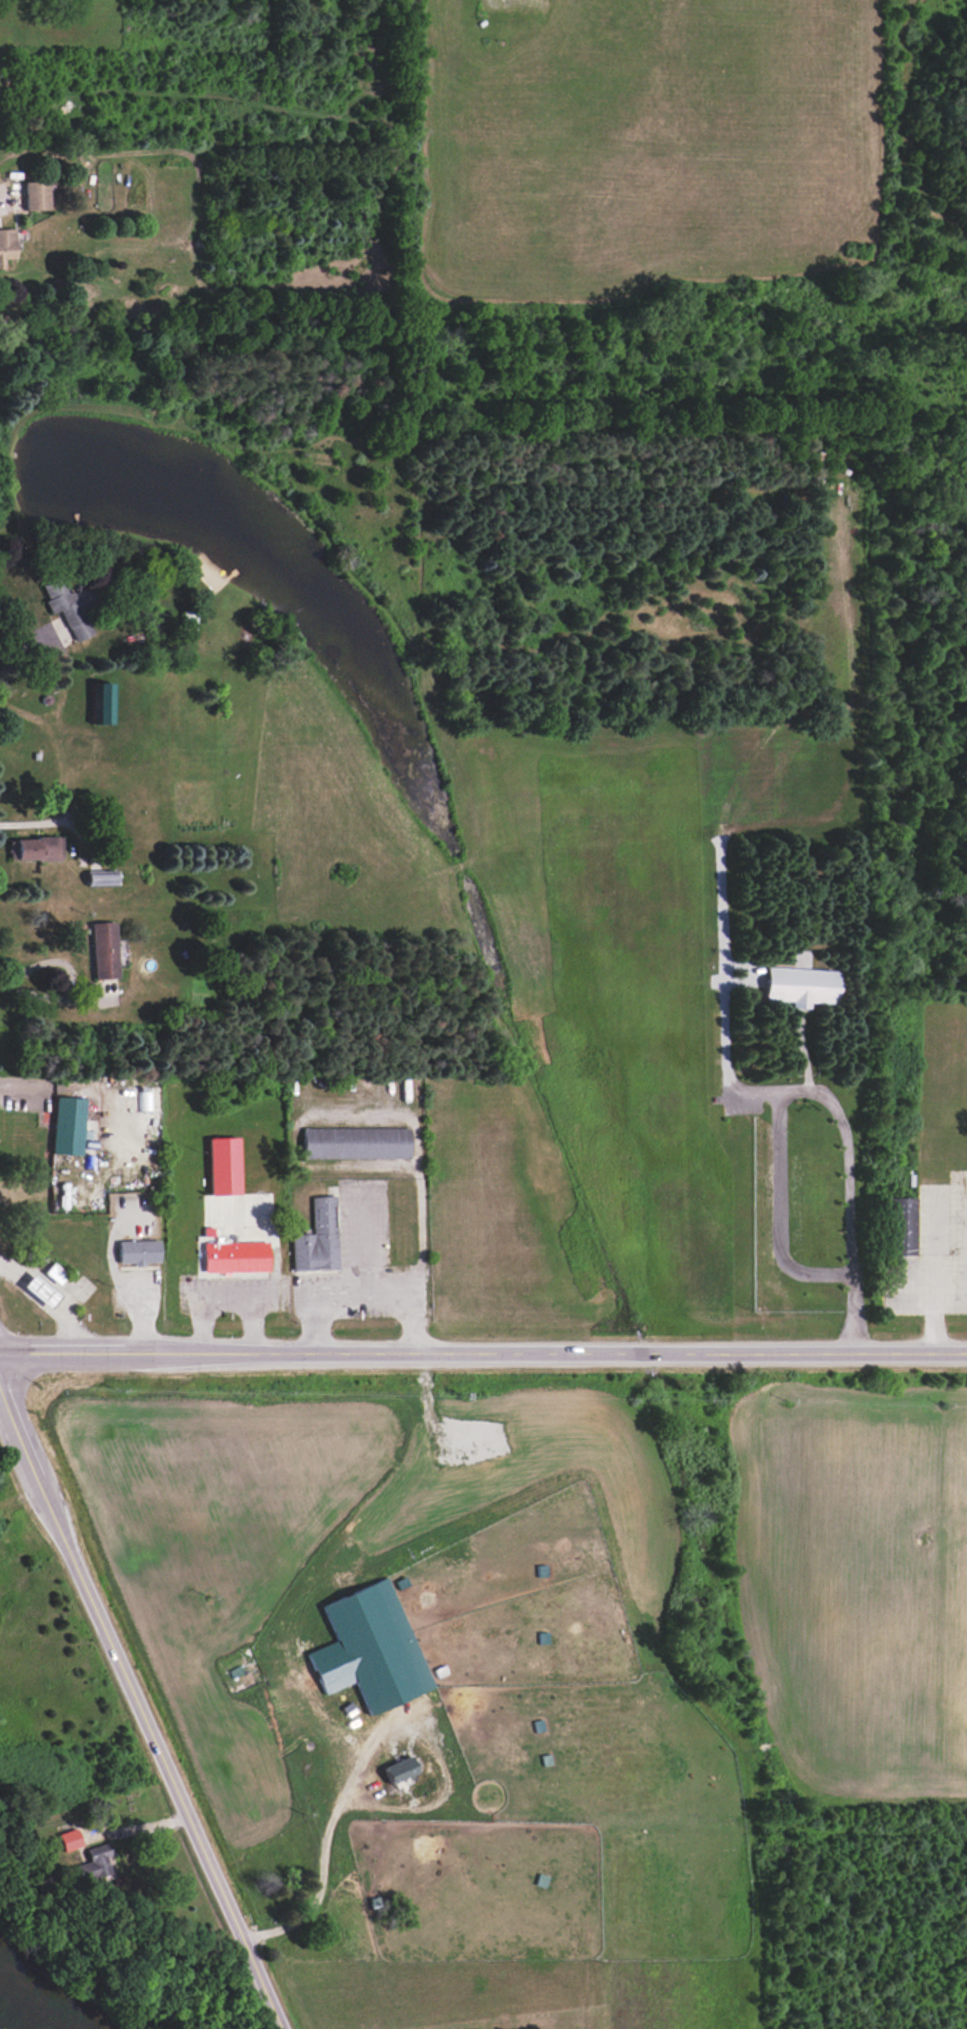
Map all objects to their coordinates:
building: (36, 195)
road: (2, 204)
building: (6, 245)
building: (68, 604)
building: (188, 621)
road: (26, 642)
building: (34, 848)
building: (100, 879)
building: (102, 950)
road: (71, 978)
building: (800, 986)
road: (22, 1086)
building: (144, 1100)
building: (67, 1125)
building: (355, 1142)
building: (222, 1165)
road: (848, 1211)
building: (902, 1226)
building: (316, 1238)
building: (137, 1251)
building: (234, 1257)
building: (54, 1273)
building: (39, 1290)
road: (371, 1292)
road: (321, 1309)
road: (483, 1352)
building: (369, 1648)
road: (140, 1709)
building: (398, 1769)
road: (135, 1829)
building: (67, 1839)
road: (323, 1855)
building: (93, 1864)
river: (1, 2027)

